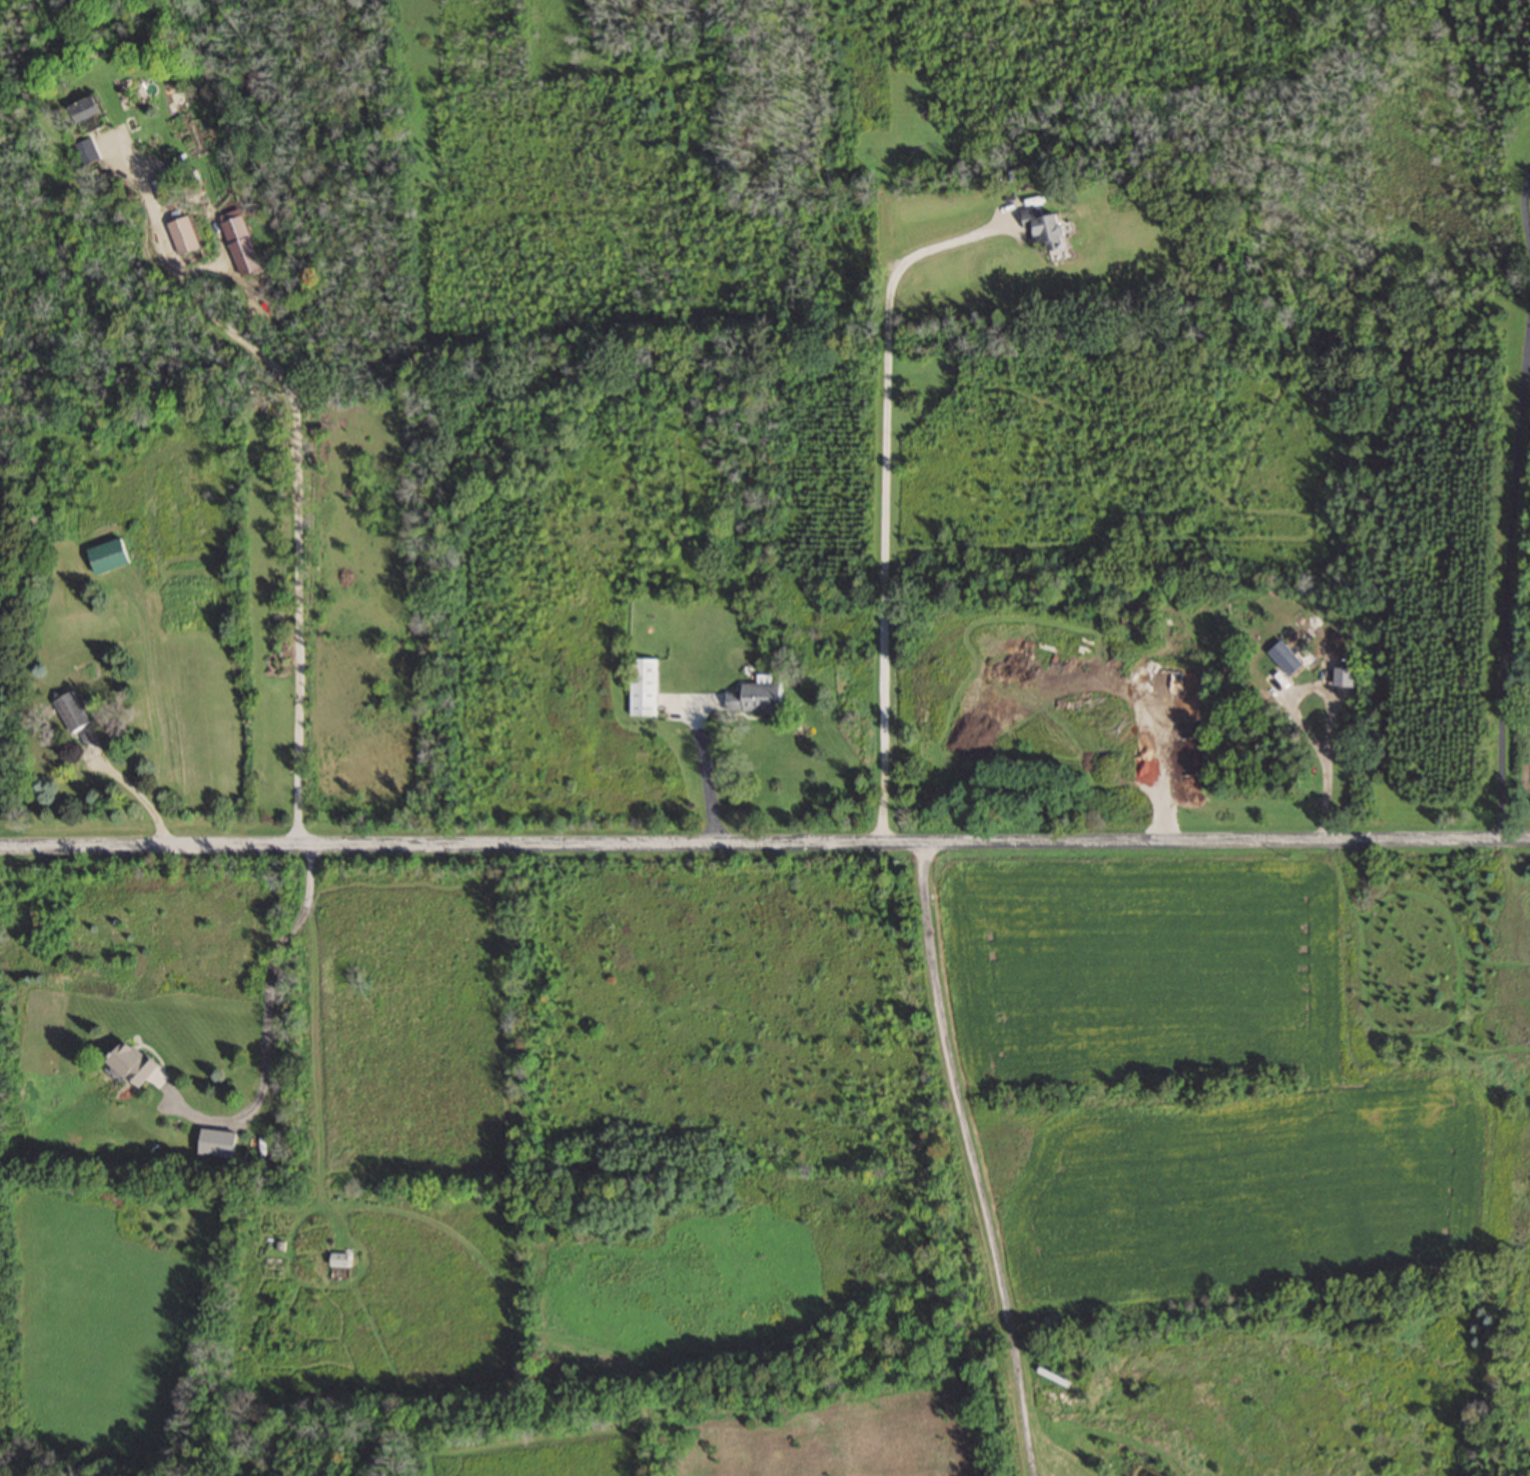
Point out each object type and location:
building: (90, 109)
building: (87, 150)
building: (165, 187)
building: (1049, 226)
building: (184, 229)
building: (242, 239)
road: (294, 468)
road: (885, 490)
building: (111, 553)
building: (1286, 657)
building: (1344, 675)
building: (644, 685)
building: (1524, 688)
building: (758, 696)
road: (1331, 705)
building: (75, 709)
road: (702, 769)
road: (764, 842)
building: (134, 1062)
building: (1058, 1375)

